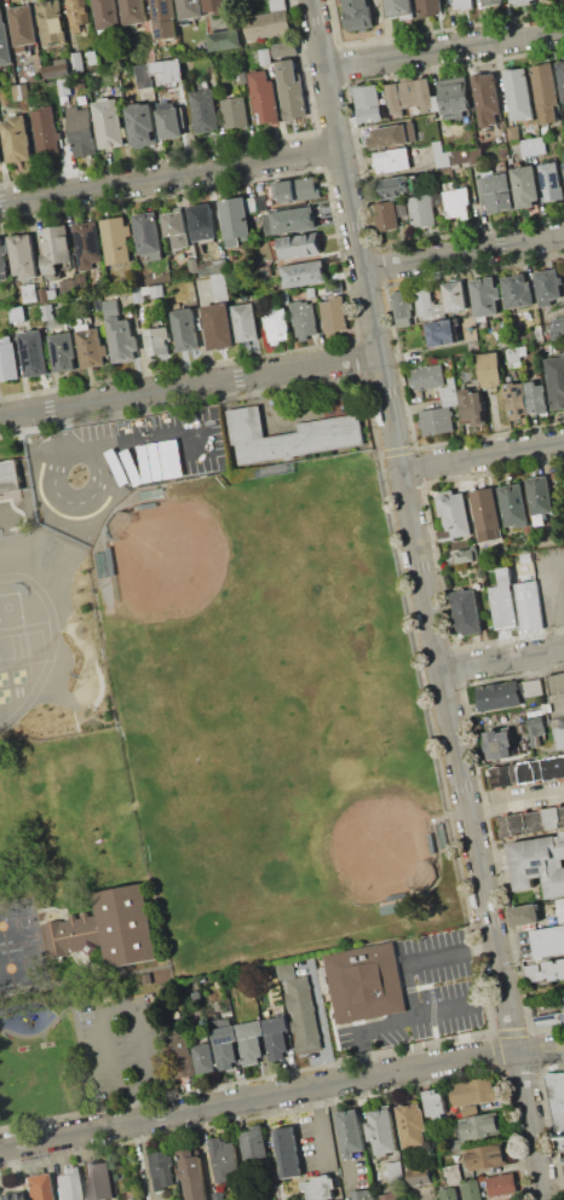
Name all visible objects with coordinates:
building: (491, 2)
building: (520, 2)
building: (462, 4)
building: (277, 5)
building: (218, 6)
building: (401, 6)
building: (430, 7)
building: (190, 10)
building: (133, 12)
building: (79, 13)
building: (358, 15)
building: (107, 16)
building: (165, 17)
building: (52, 22)
building: (266, 24)
building: (23, 25)
road: (387, 29)
building: (225, 40)
building: (4, 42)
building: (287, 48)
road: (444, 50)
building: (265, 56)
building: (93, 57)
building: (77, 62)
building: (58, 69)
building: (160, 73)
building: (240, 75)
building: (560, 76)
building: (1, 82)
building: (64, 86)
building: (290, 90)
building: (21, 91)
building: (545, 92)
building: (517, 93)
building: (409, 96)
building: (454, 96)
building: (487, 96)
building: (263, 98)
building: (84, 99)
building: (368, 103)
building: (436, 103)
building: (205, 110)
building: (235, 111)
building: (109, 122)
building: (169, 122)
building: (142, 125)
building: (46, 128)
building: (82, 131)
building: (512, 133)
building: (392, 135)
building: (17, 139)
building: (533, 146)
building: (1, 155)
building: (439, 155)
building: (474, 155)
building: (460, 156)
building: (563, 158)
building: (392, 160)
road: (171, 179)
building: (552, 180)
building: (448, 185)
building: (525, 185)
building: (396, 187)
building: (295, 189)
building: (496, 191)
building: (261, 202)
building: (456, 202)
building: (252, 206)
building: (421, 210)
building: (385, 215)
building: (235, 220)
building: (289, 220)
building: (202, 221)
building: (175, 227)
building: (148, 235)
building: (116, 240)
building: (88, 241)
building: (299, 244)
building: (56, 247)
road: (464, 250)
building: (23, 256)
building: (4, 260)
building: (213, 266)
building: (192, 267)
building: (264, 272)
building: (304, 273)
building: (82, 282)
building: (547, 285)
building: (69, 287)
building: (220, 288)
building: (333, 289)
building: (516, 290)
building: (157, 292)
building: (311, 292)
building: (29, 293)
building: (52, 294)
building: (137, 294)
building: (188, 294)
building: (42, 295)
building: (455, 295)
building: (484, 296)
building: (283, 298)
building: (427, 304)
building: (111, 305)
building: (402, 307)
building: (46, 312)
building: (17, 313)
building: (334, 315)
building: (304, 318)
building: (244, 321)
building: (559, 323)
building: (276, 324)
building: (219, 325)
building: (185, 328)
building: (442, 331)
building: (556, 335)
building: (122, 339)
building: (159, 340)
building: (91, 346)
building: (523, 350)
building: (64, 352)
building: (33, 353)
building: (513, 357)
building: (7, 359)
building: (490, 369)
building: (427, 376)
building: (556, 380)
road: (189, 386)
building: (450, 392)
building: (536, 397)
building: (516, 399)
building: (472, 408)
building: (436, 421)
road: (62, 428)
parking lot: (152, 428)
building: (289, 435)
road: (142, 438)
building: (211, 452)
road: (482, 455)
building: (190, 456)
building: (171, 460)
building: (150, 462)
building: (131, 466)
building: (10, 477)
building: (540, 498)
road: (79, 502)
building: (516, 506)
building: (454, 512)
building: (485, 514)
building: (444, 535)
building: (464, 555)
park: (196, 587)
road: (557, 590)
park: (328, 593)
road: (425, 595)
building: (503, 601)
building: (529, 604)
building: (465, 611)
park: (12, 634)
track: (22, 644)
park: (25, 644)
road: (501, 658)
park: (19, 675)
park: (4, 679)
building: (556, 683)
building: (531, 687)
park: (5, 696)
building: (499, 696)
road: (558, 710)
building: (536, 729)
building: (559, 734)
building: (499, 744)
building: (528, 772)
park: (218, 775)
park: (202, 778)
road: (514, 798)
building: (531, 821)
park: (351, 825)
building: (539, 862)
building: (562, 907)
building: (524, 913)
park: (17, 922)
road: (38, 928)
building: (103, 928)
building: (548, 941)
road: (19, 944)
road: (421, 958)
park: (21, 965)
building: (286, 970)
building: (545, 971)
road: (85, 981)
building: (364, 983)
building: (196, 996)
parking lot: (424, 996)
building: (563, 1002)
building: (303, 1014)
road: (87, 1015)
road: (419, 1017)
building: (549, 1019)
road: (40, 1032)
building: (275, 1035)
building: (249, 1040)
building: (224, 1045)
parking lot: (125, 1048)
road: (81, 1057)
building: (205, 1057)
building: (184, 1058)
road: (150, 1084)
road: (281, 1094)
building: (473, 1094)
building: (557, 1101)
building: (433, 1103)
road: (133, 1104)
building: (412, 1125)
building: (479, 1126)
road: (321, 1127)
building: (382, 1131)
building: (351, 1132)
building: (456, 1144)
building: (254, 1150)
building: (288, 1152)
building: (484, 1156)
building: (223, 1158)
road: (144, 1160)
building: (162, 1167)
building: (419, 1169)
building: (395, 1172)
road: (12, 1173)
building: (453, 1173)
building: (192, 1175)
building: (98, 1178)
road: (553, 1178)
building: (419, 1181)
building: (502, 1183)
building: (65, 1184)
building: (35, 1187)
building: (320, 1188)
building: (471, 1190)
building: (362, 1194)
building: (448, 1194)
road: (543, 1195)
building: (7, 1196)
building: (389, 1196)
building: (219, 1198)
building: (132, 1199)
building: (138, 1199)

